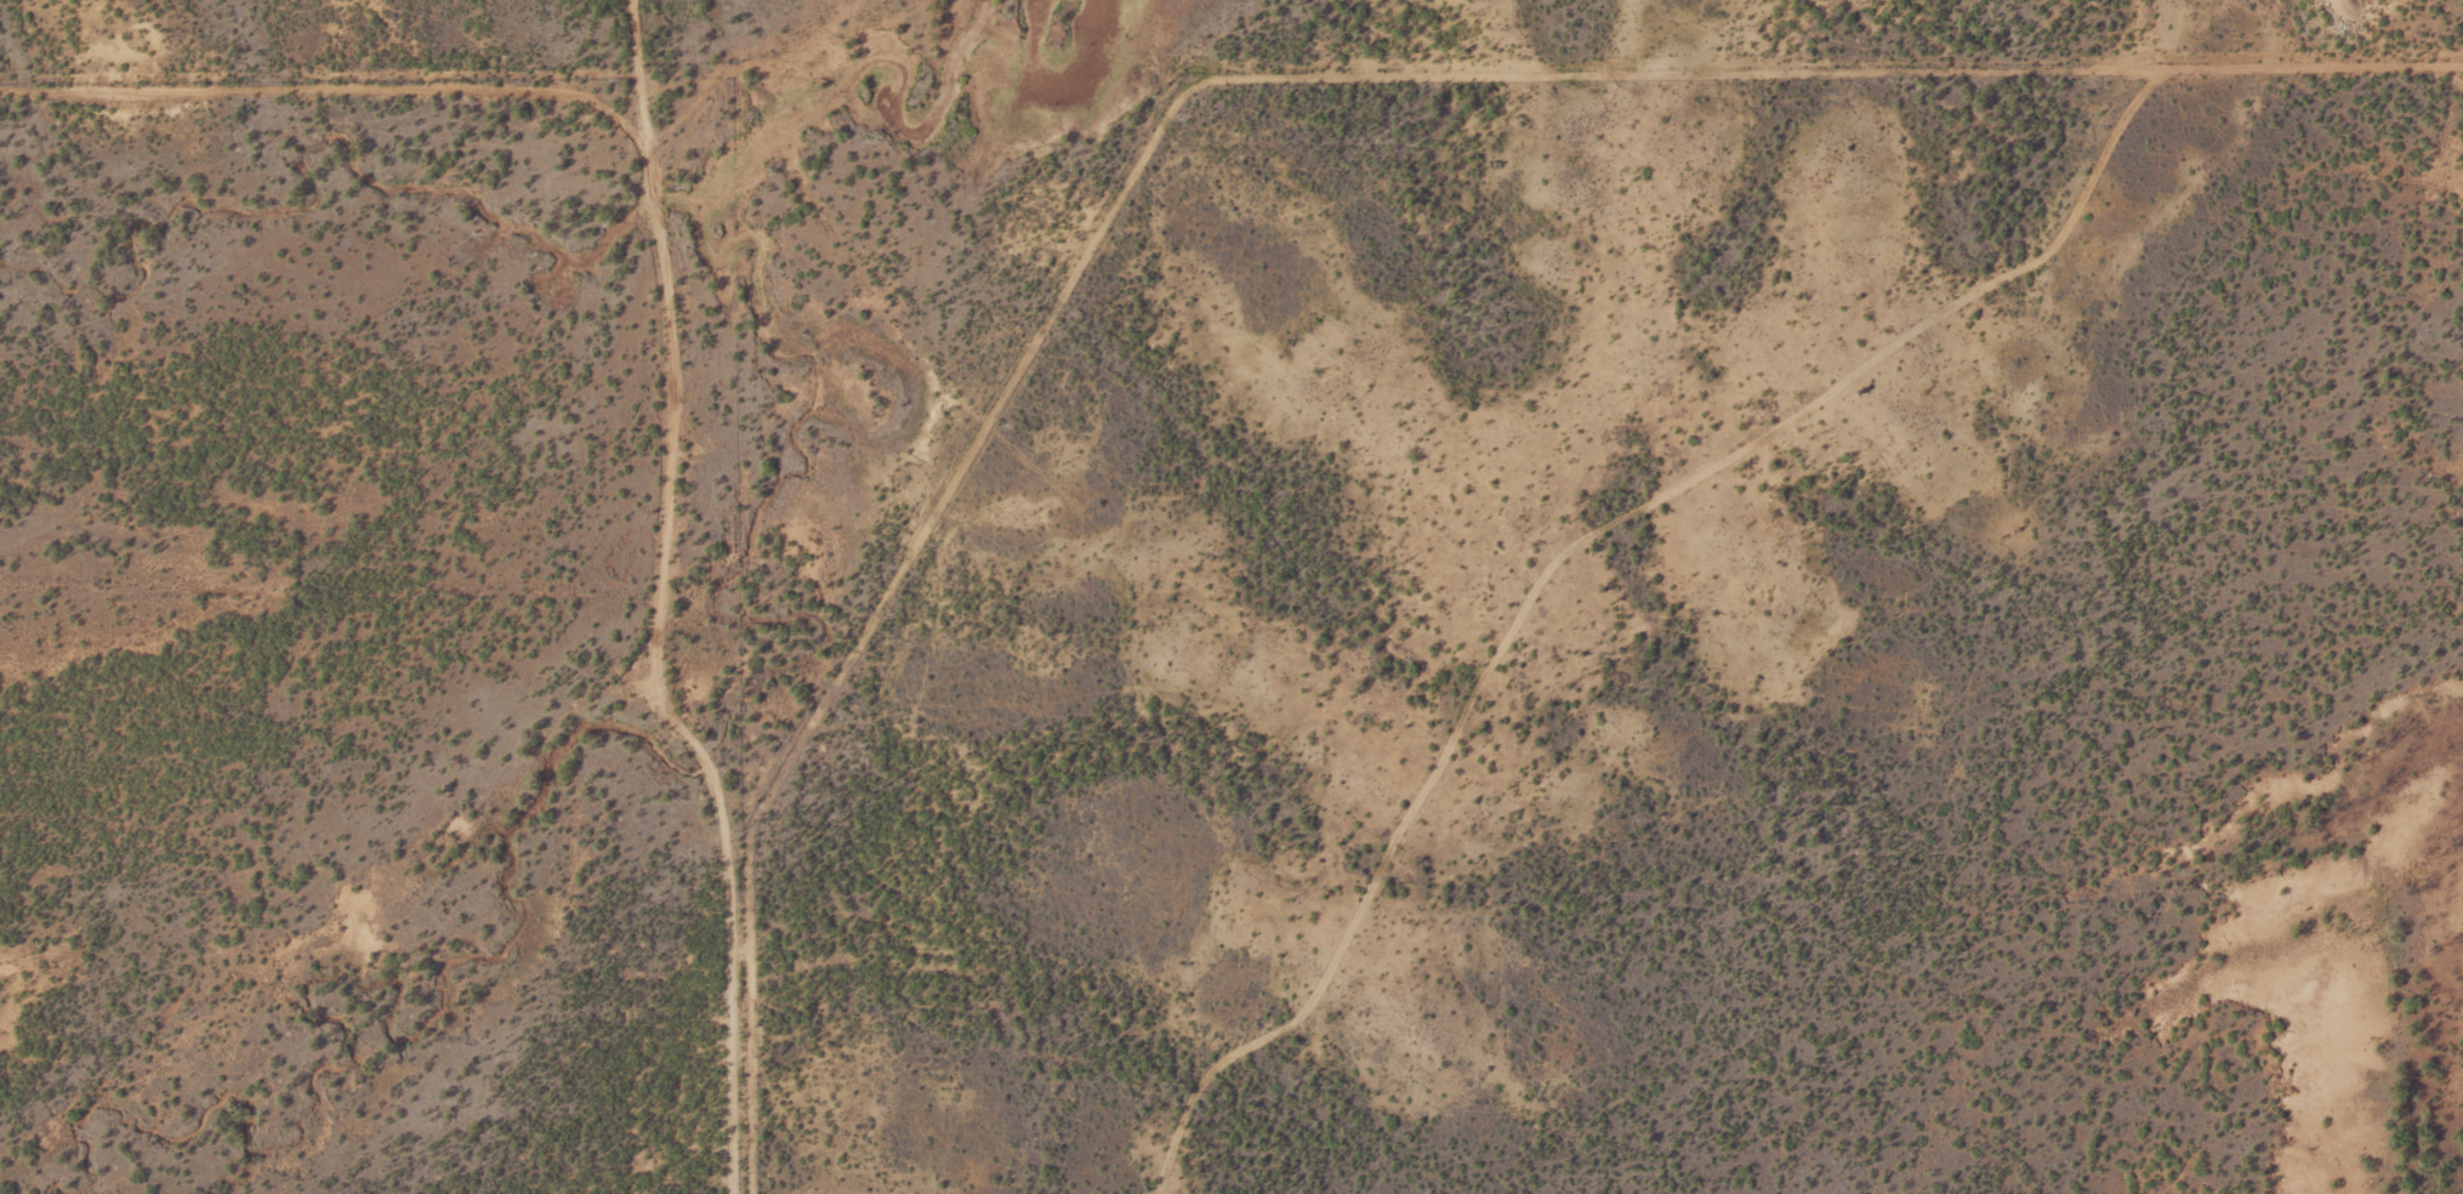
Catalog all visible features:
road: (635, 346)
road: (1622, 535)

